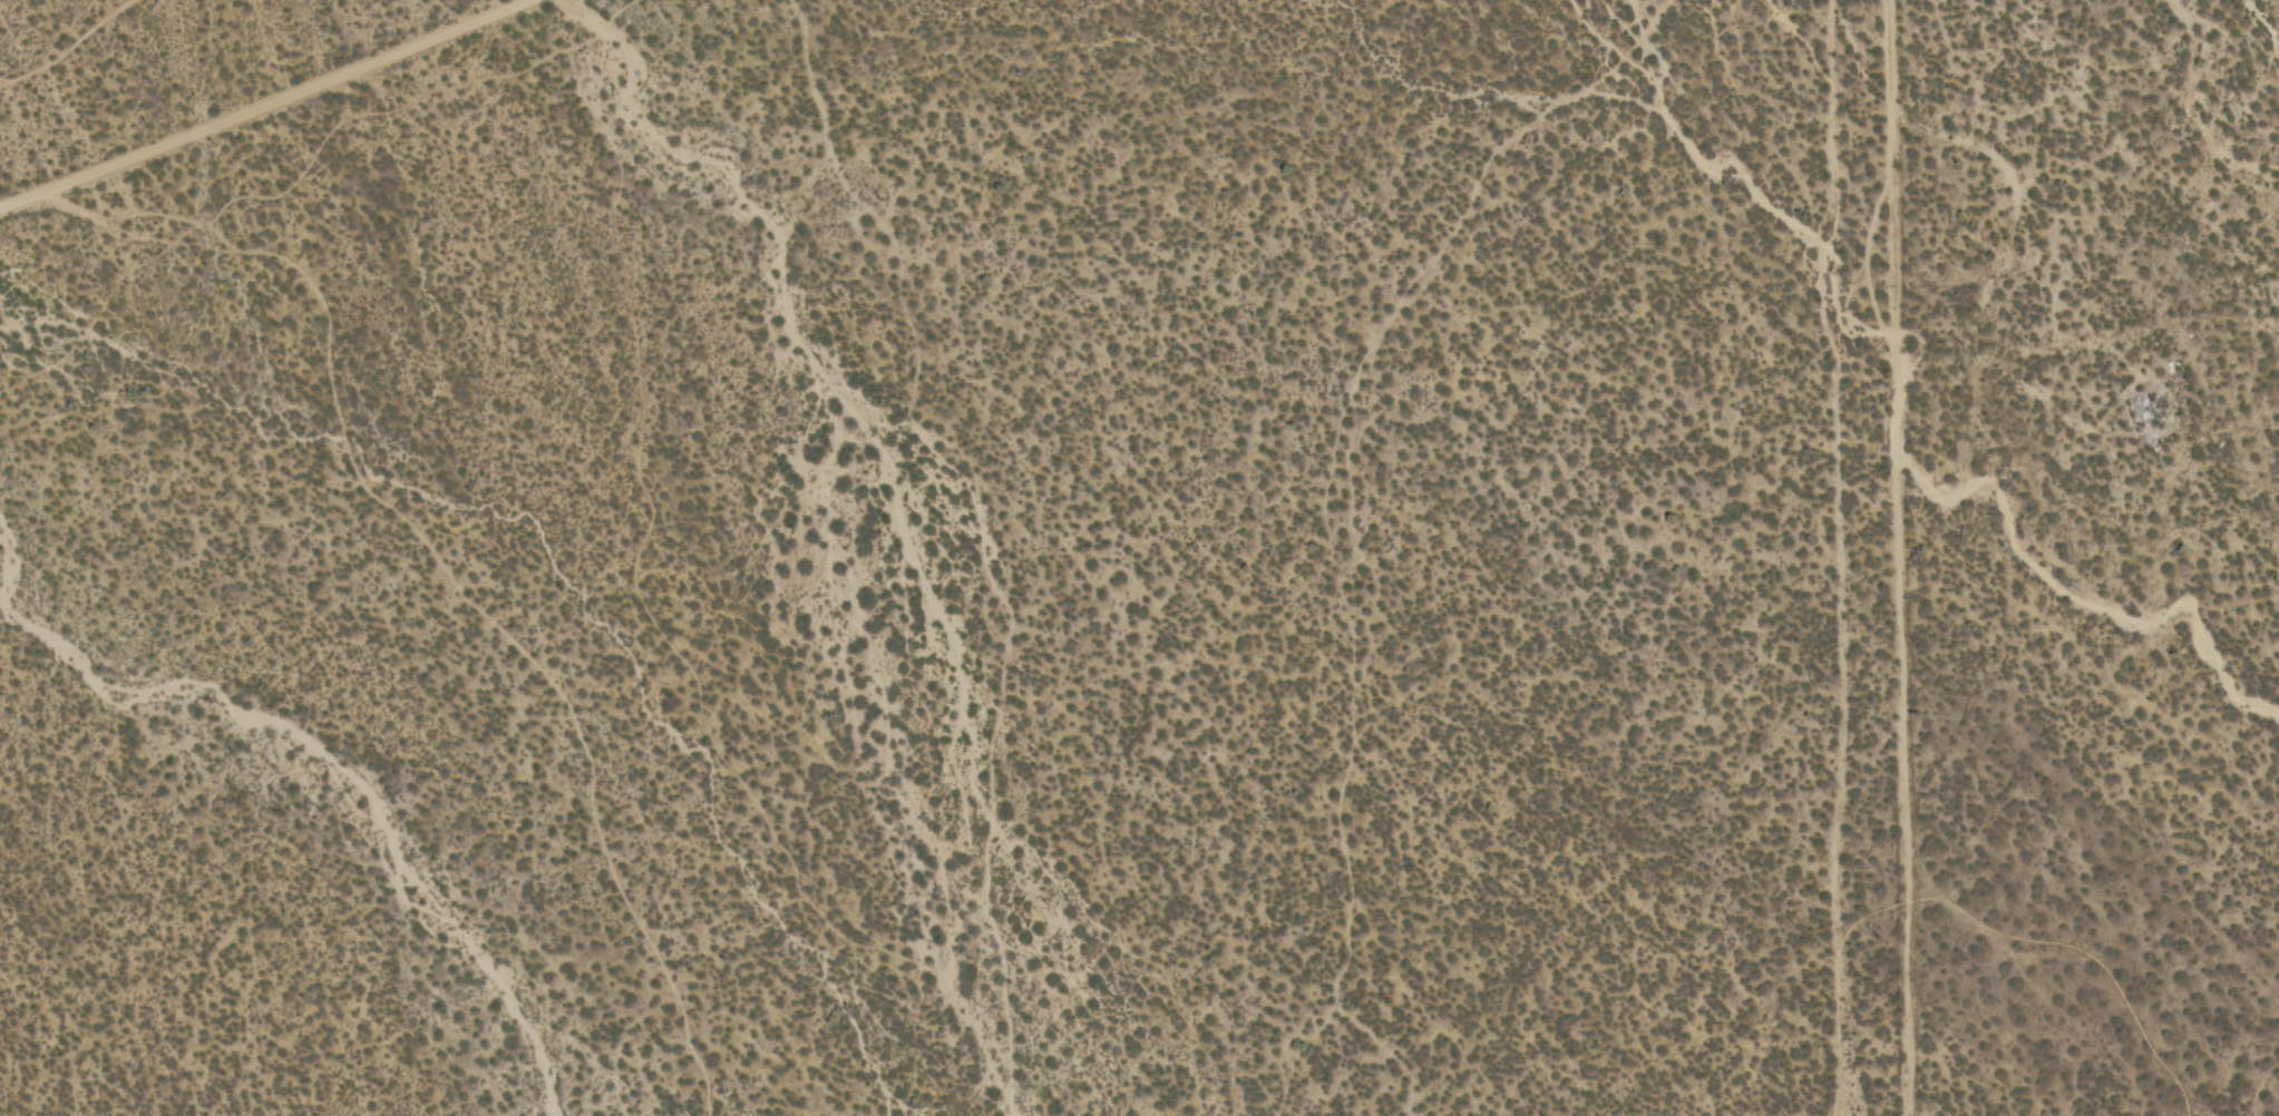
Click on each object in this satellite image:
road: (262, 101)
road: (1841, 558)

